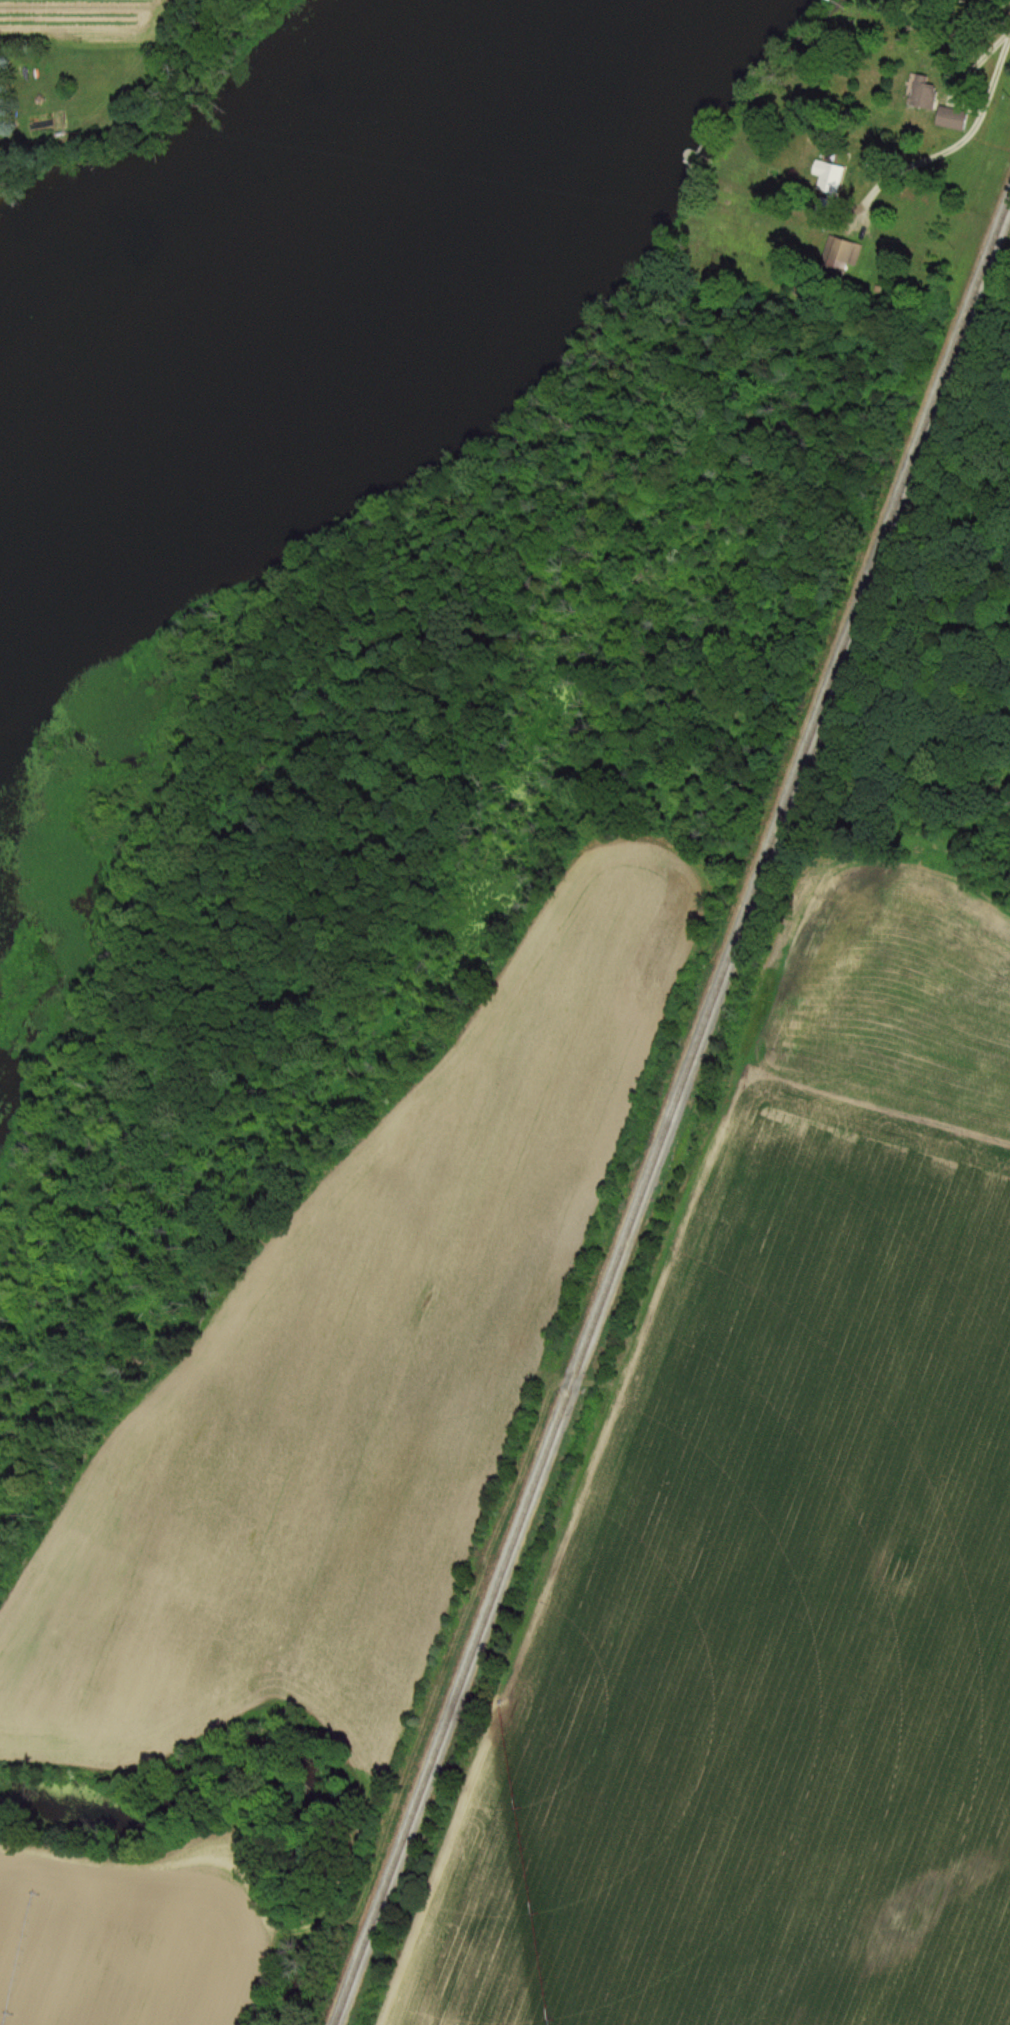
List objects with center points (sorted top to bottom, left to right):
building: (919, 92)
building: (948, 118)
road: (967, 129)
building: (825, 176)
road: (830, 202)
building: (838, 254)
river: (323, 308)
railway: (671, 1109)

